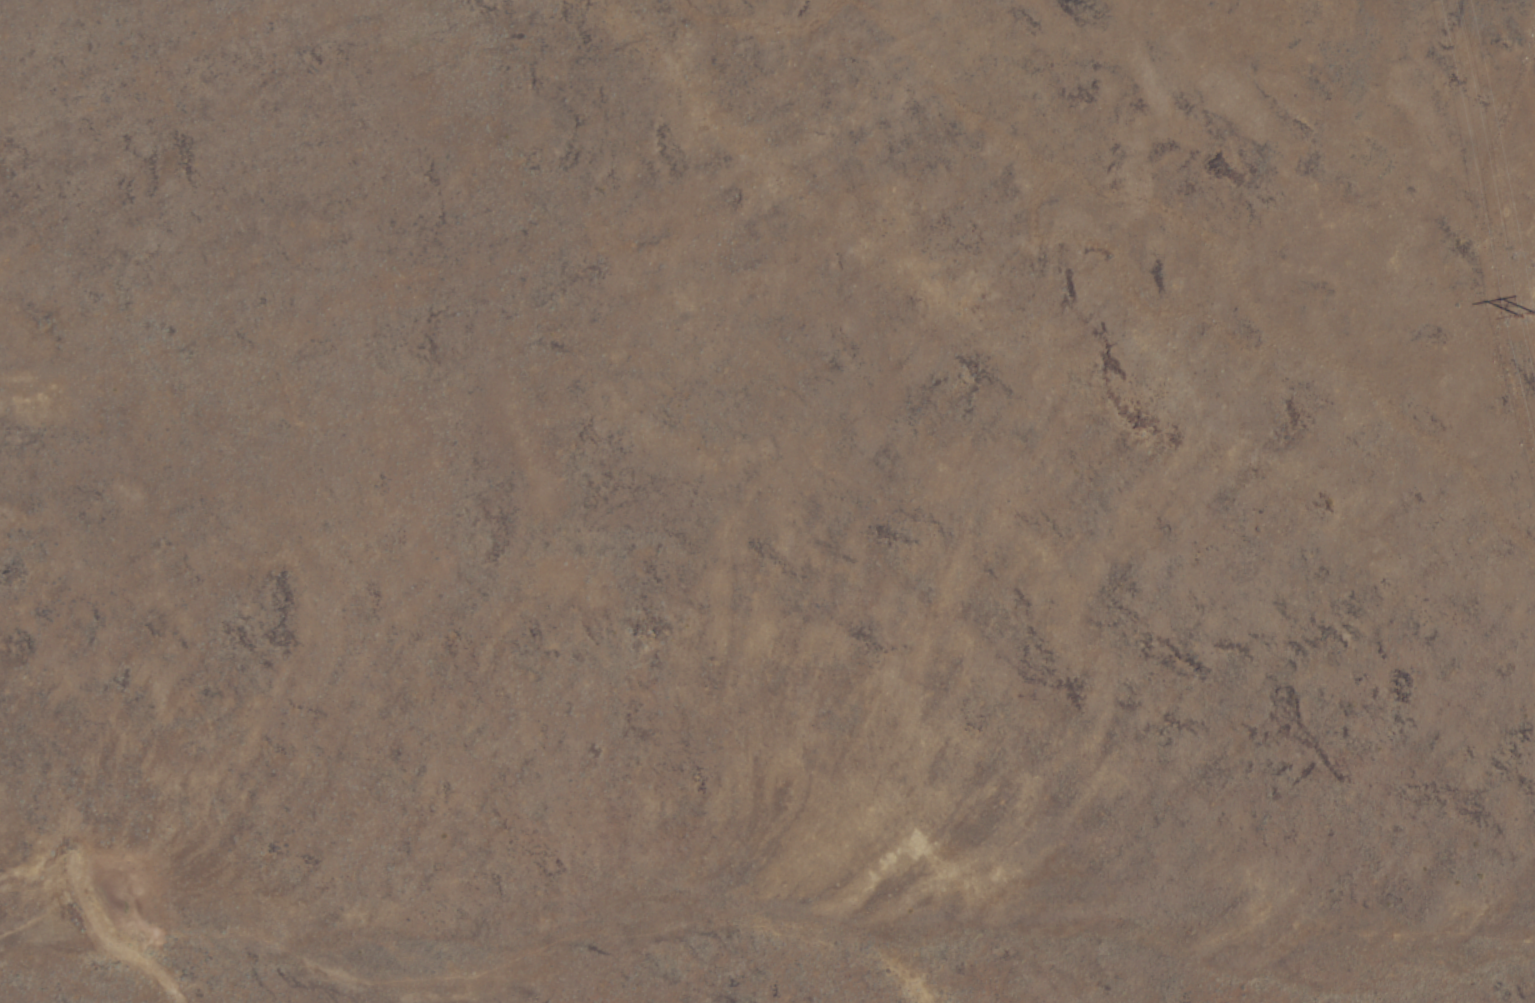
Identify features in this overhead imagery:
power tower: (1526, 315)

